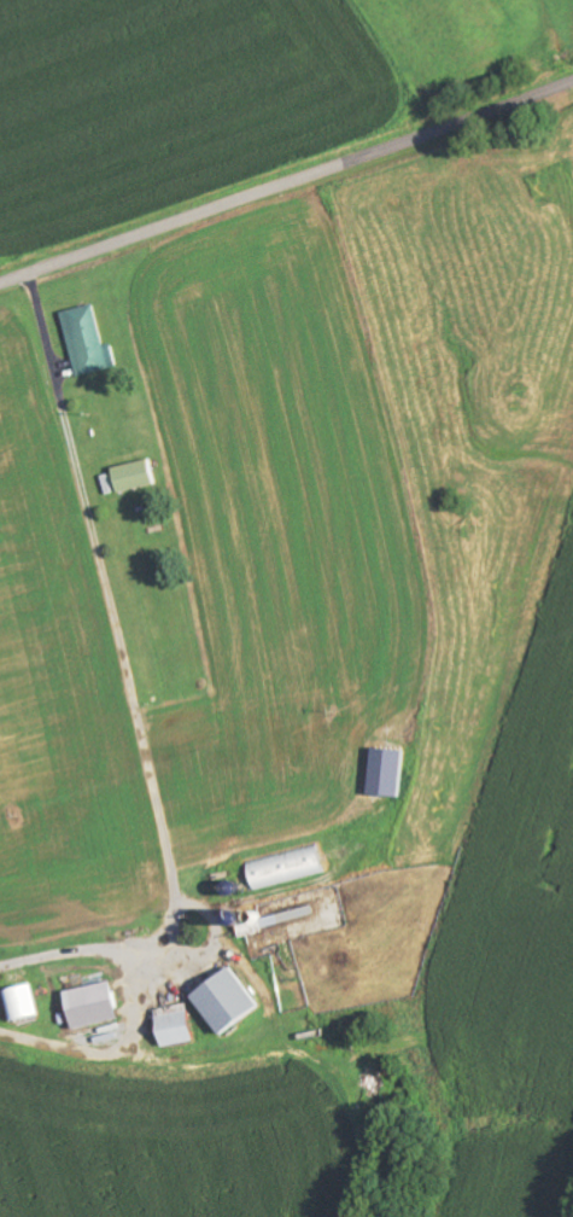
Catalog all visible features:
road: (287, 184)
building: (83, 340)
building: (131, 476)
building: (285, 866)
road: (49, 972)
building: (228, 1002)
building: (18, 1005)
building: (92, 1006)
building: (175, 1025)

